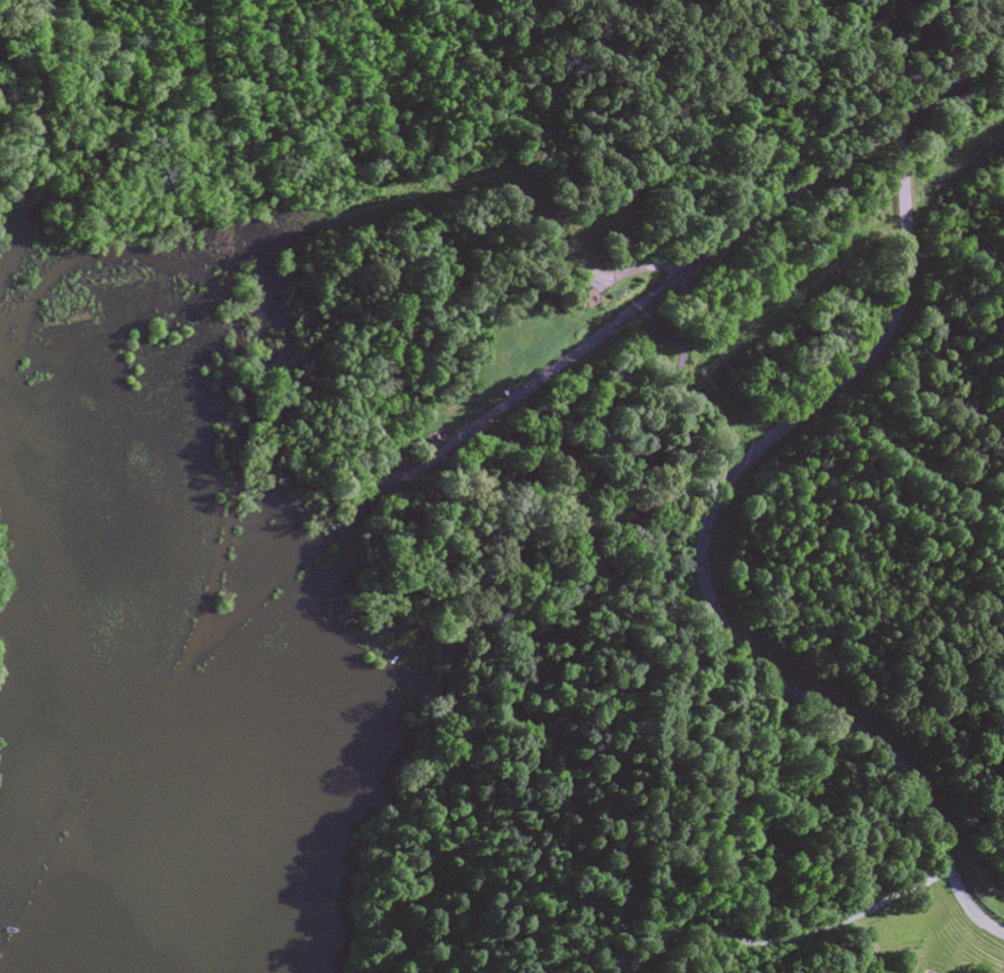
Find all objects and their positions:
road: (195, 42)
road: (216, 189)
road: (751, 227)
road: (954, 243)
building: (576, 302)
road: (315, 472)
road: (711, 550)
road: (274, 580)

